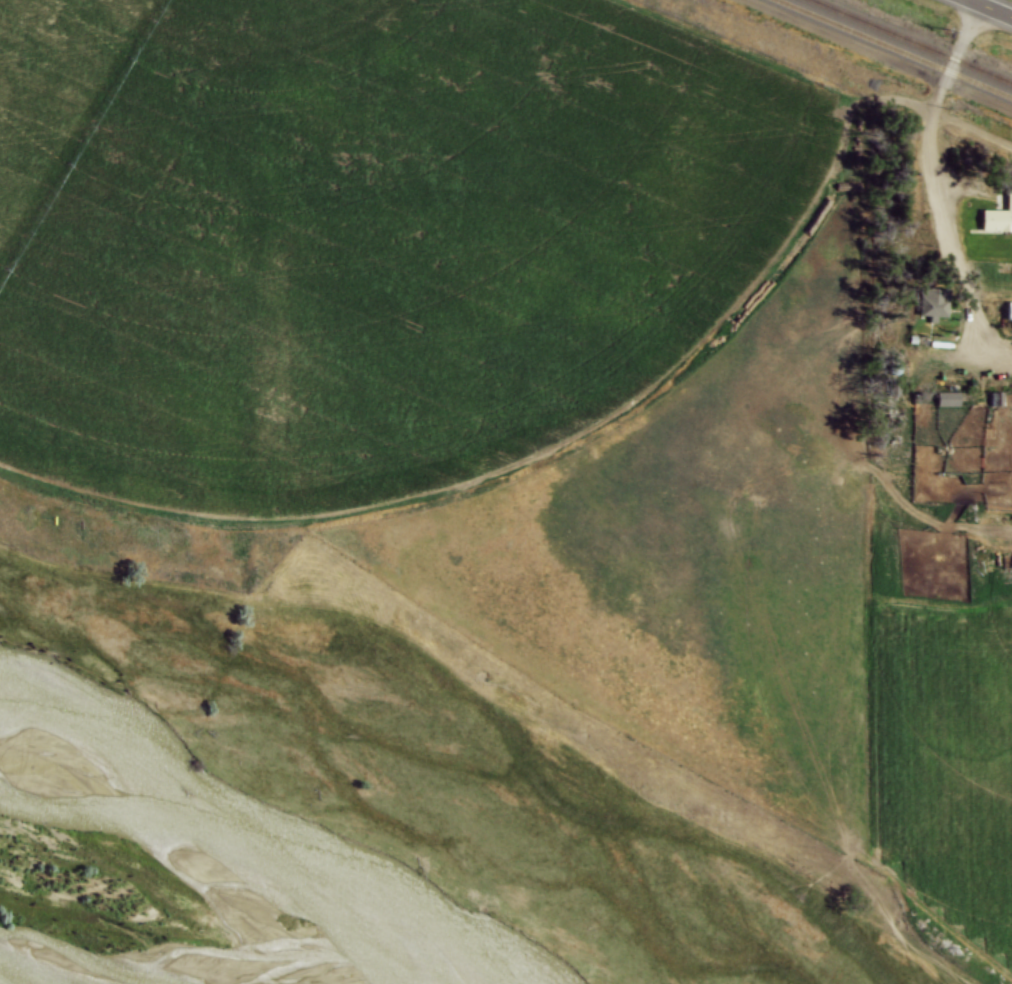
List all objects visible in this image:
road: (992, 7)
railway: (912, 41)
railway: (895, 48)
road: (935, 175)
road: (963, 184)
building: (998, 217)
building: (933, 301)
building: (1010, 311)
building: (948, 398)

